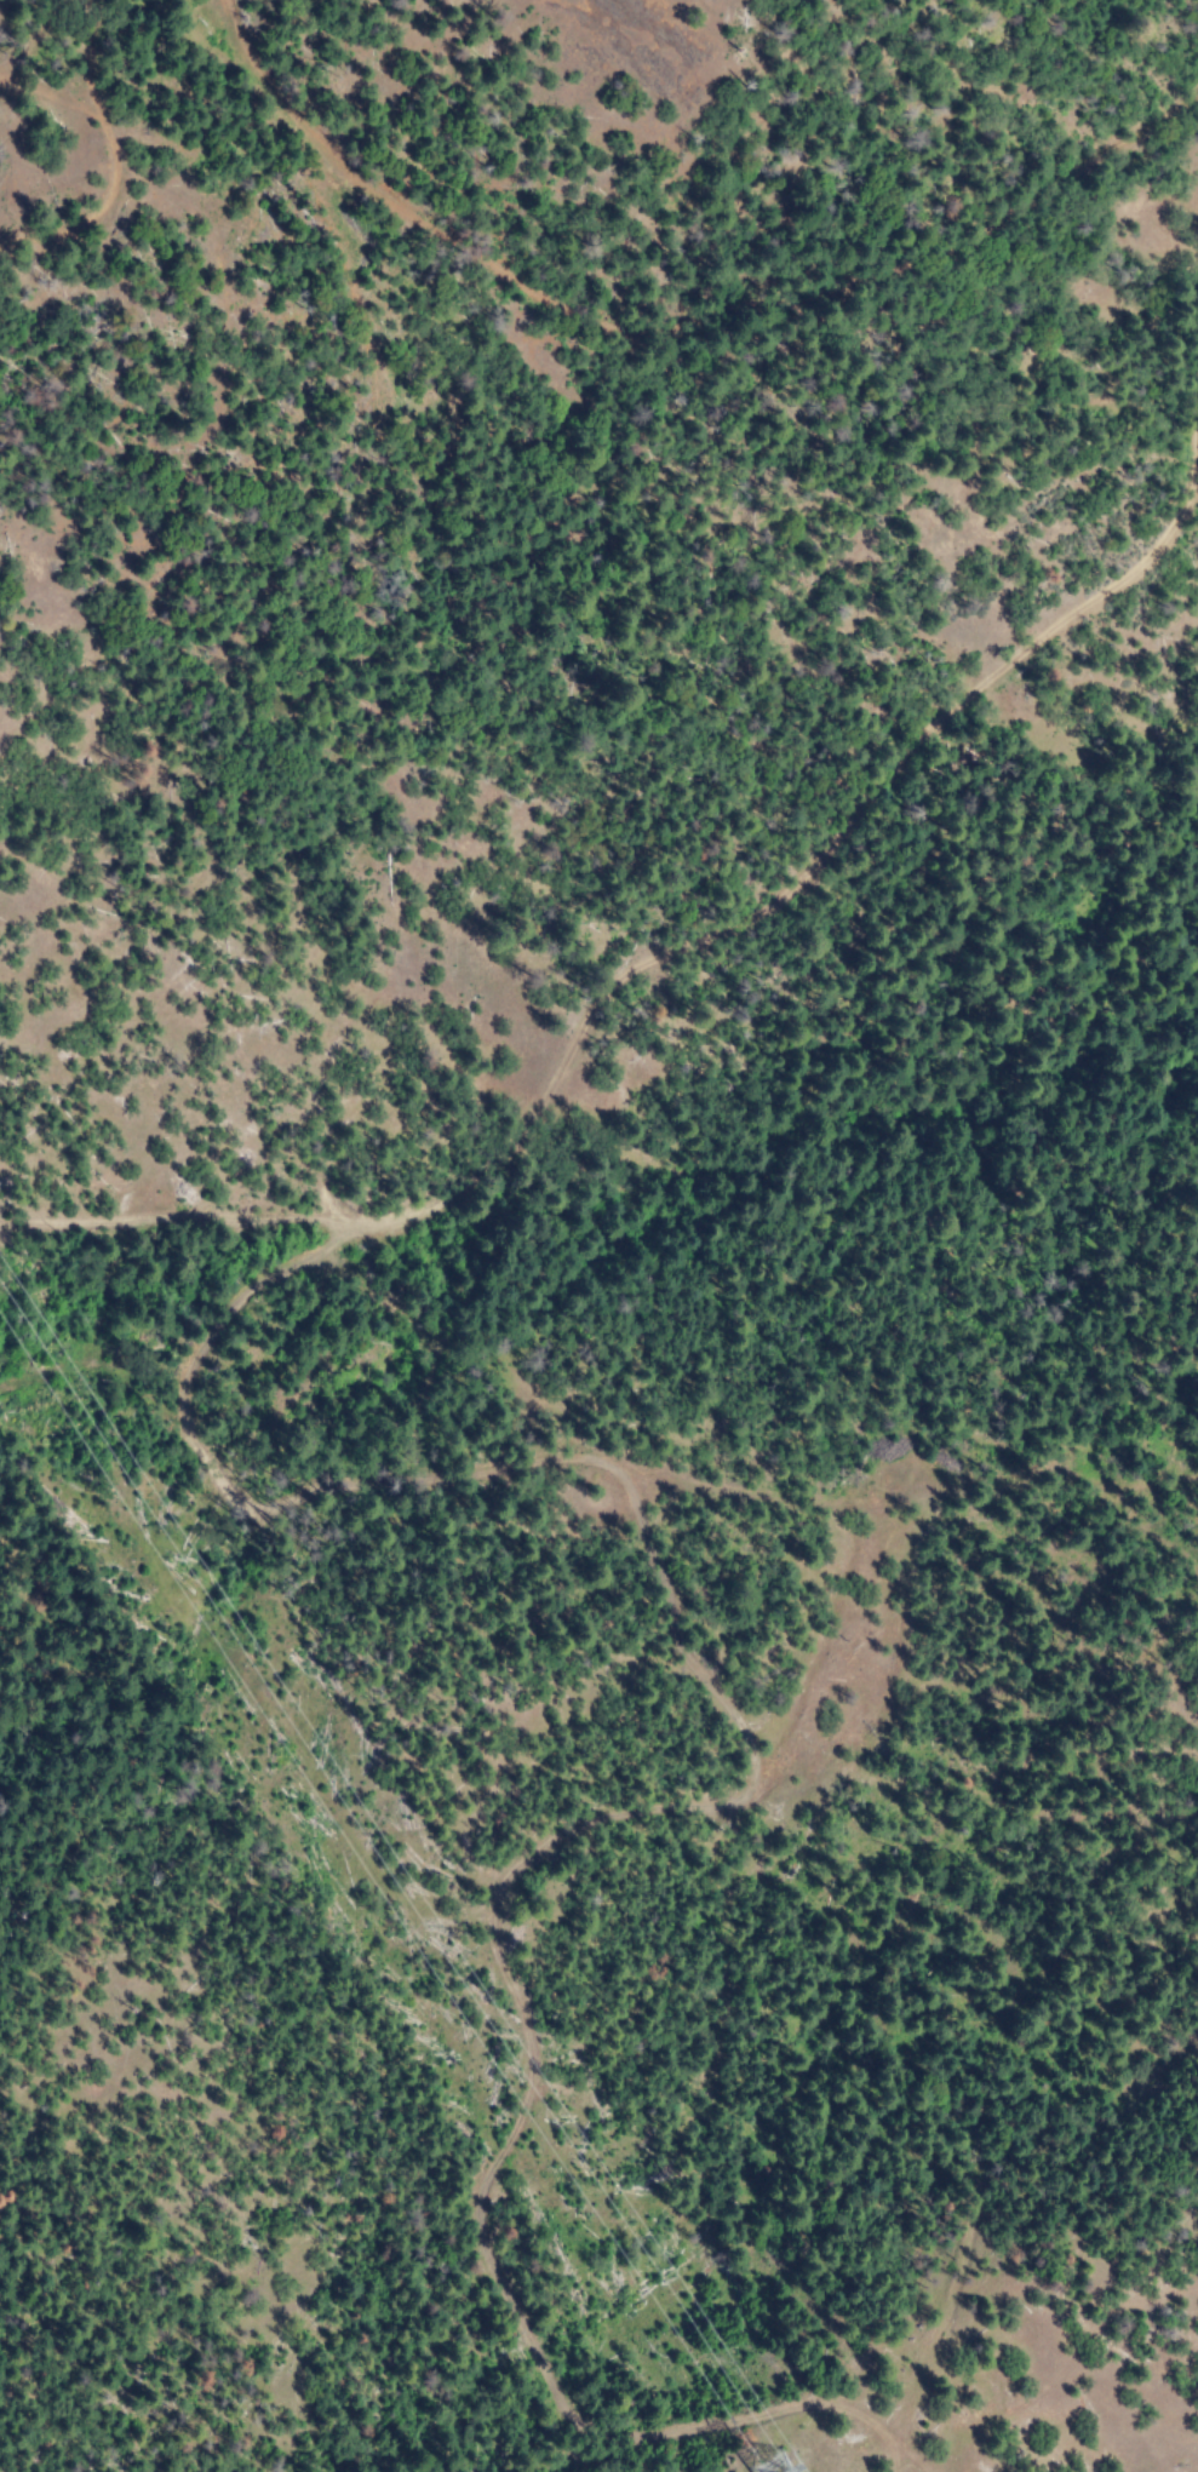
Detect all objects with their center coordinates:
power tower: (768, 2471)

